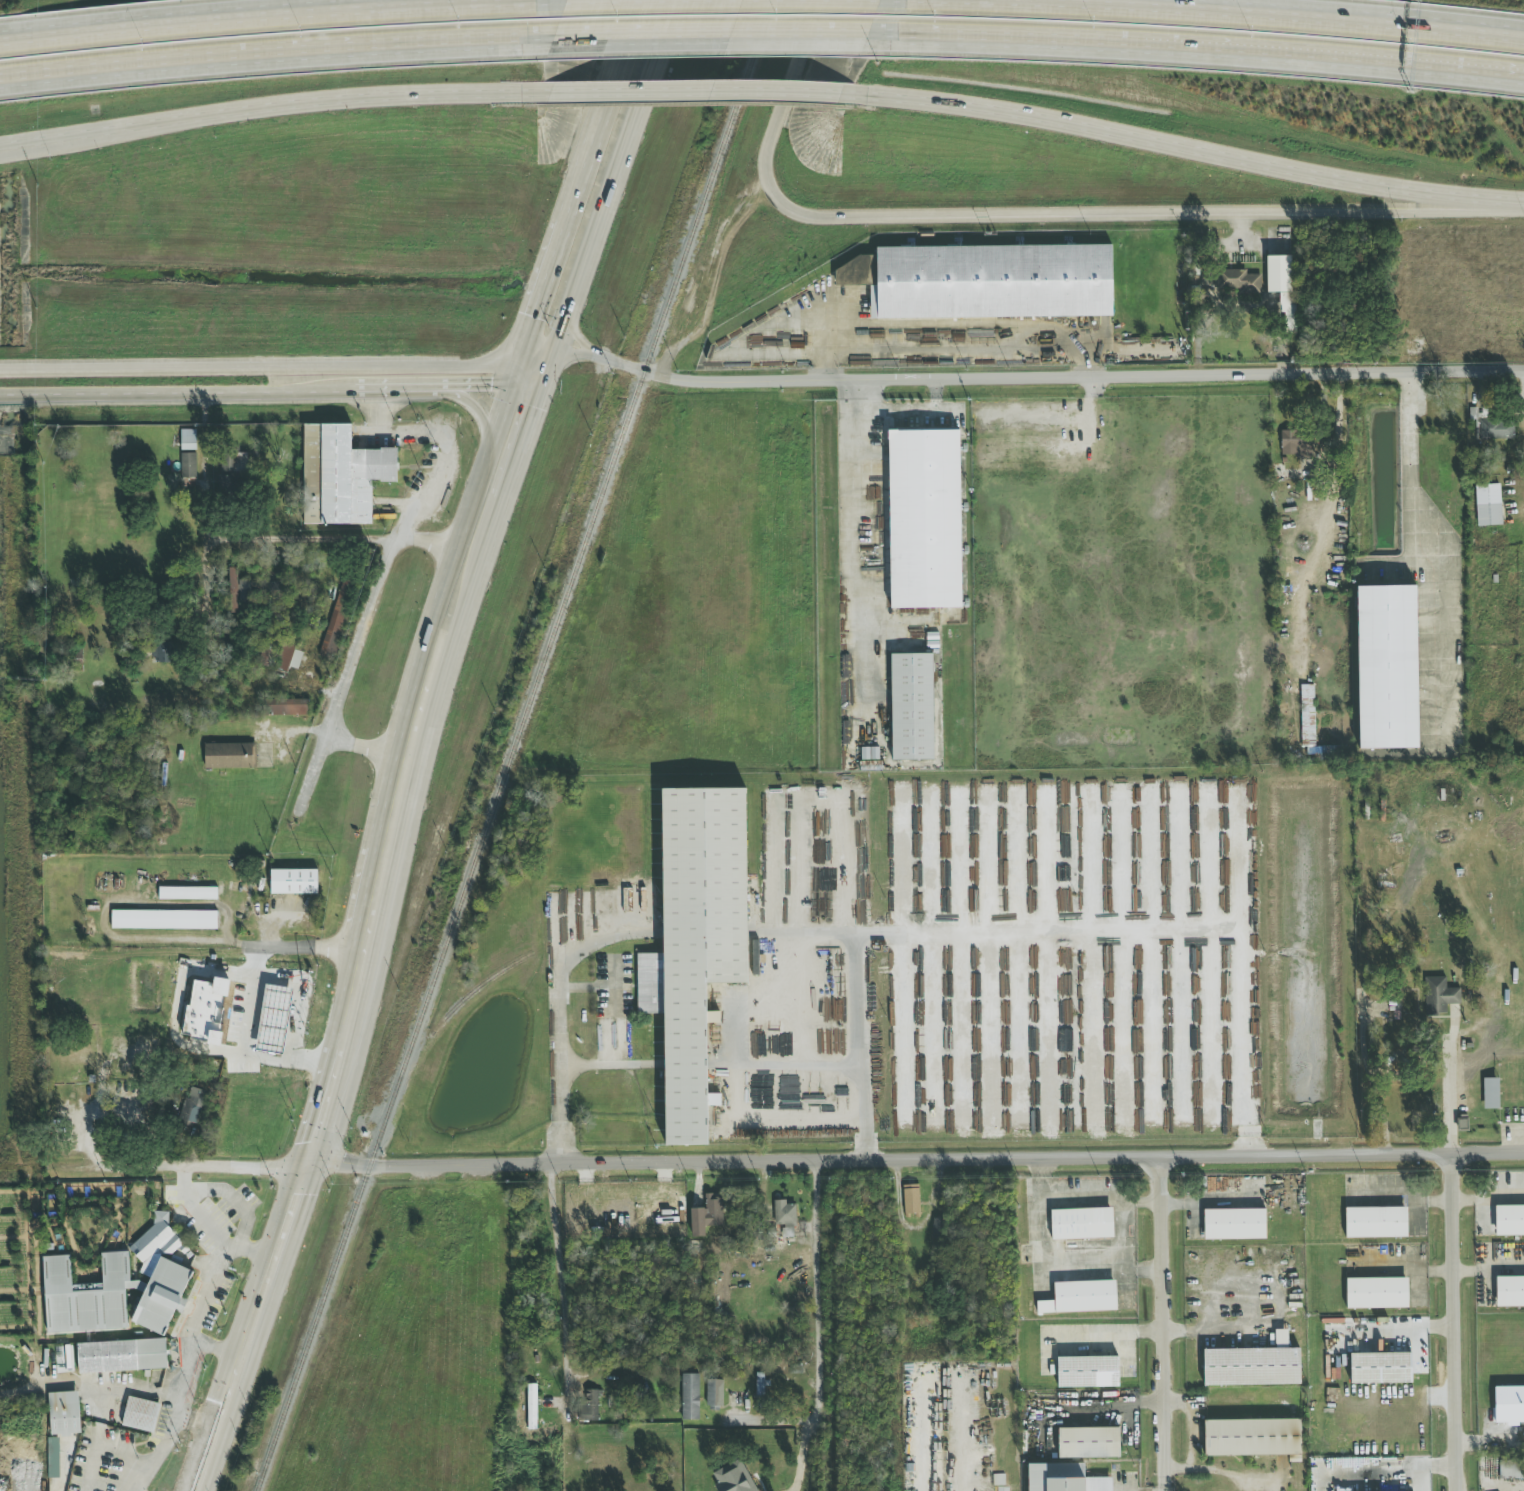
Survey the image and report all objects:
road: (721, 4)
road: (1202, 17)
road: (280, 21)
road: (714, 28)
road: (1198, 41)
road: (277, 47)
road: (692, 91)
road: (265, 107)
road: (635, 120)
road: (1186, 147)
road: (1040, 216)
road: (566, 230)
building: (1278, 274)
road: (582, 275)
building: (984, 281)
building: (1237, 281)
building: (1288, 312)
traffic signals: (536, 319)
road: (574, 333)
traffic signals: (578, 340)
road: (558, 346)
road: (563, 361)
road: (273, 368)
road: (1054, 376)
road: (1523, 377)
traffic signals: (490, 386)
road: (495, 386)
road: (1409, 387)
road: (399, 389)
road: (176, 394)
road: (936, 396)
road: (917, 414)
road: (480, 416)
building: (1489, 426)
building: (188, 440)
road: (524, 443)
building: (1296, 444)
building: (233, 462)
building: (188, 465)
road: (202, 467)
building: (341, 475)
building: (225, 483)
road: (1410, 492)
road: (471, 503)
building: (1488, 505)
building: (924, 519)
road: (494, 532)
road: (251, 538)
road: (427, 542)
road: (871, 563)
road: (445, 577)
building: (233, 586)
building: (272, 588)
road: (473, 591)
building: (245, 592)
road: (365, 626)
road: (437, 627)
road: (450, 632)
building: (164, 652)
building: (1388, 665)
building: (289, 707)
building: (912, 707)
building: (1311, 729)
railway: (513, 745)
road: (365, 748)
road: (410, 750)
building: (229, 756)
building: (294, 882)
building: (187, 893)
road: (374, 906)
road: (270, 916)
building: (164, 920)
road: (1046, 934)
road: (601, 937)
road: (145, 938)
building: (695, 943)
road: (262, 975)
building: (1439, 989)
road: (351, 1009)
building: (1397, 1009)
building: (206, 1010)
road: (610, 1026)
road: (246, 1039)
road: (296, 1041)
road: (558, 1047)
road: (793, 1063)
road: (1449, 1084)
building: (1490, 1093)
building: (192, 1105)
road: (323, 1115)
road: (790, 1162)
traffic signals: (308, 1167)
road: (1084, 1197)
building: (911, 1199)
road: (1485, 1199)
road: (198, 1210)
building: (713, 1210)
road: (292, 1212)
building: (784, 1213)
building: (1509, 1220)
building: (697, 1222)
building: (1375, 1222)
building: (1081, 1224)
building: (1234, 1224)
road: (1121, 1254)
road: (559, 1282)
building: (118, 1287)
road: (209, 1287)
road: (816, 1291)
building: (1510, 1291)
building: (1376, 1293)
building: (1080, 1298)
road: (1164, 1321)
road: (1448, 1321)
building: (121, 1356)
building: (1253, 1365)
building: (1381, 1368)
building: (789, 1369)
road: (225, 1371)
building: (1087, 1372)
road: (248, 1375)
building: (760, 1385)
road: (90, 1387)
building: (714, 1393)
road: (183, 1394)
building: (690, 1397)
building: (532, 1401)
building: (589, 1405)
building: (1508, 1406)
building: (64, 1413)
building: (140, 1415)
road: (1189, 1436)
building: (1253, 1438)
building: (1088, 1443)
road: (98, 1446)
road: (154, 1453)
road: (802, 1455)
building: (53, 1458)
road: (185, 1468)
building: (1510, 1469)
road: (1229, 1474)
building: (733, 1478)
building: (1063, 1478)
road: (1164, 1488)

